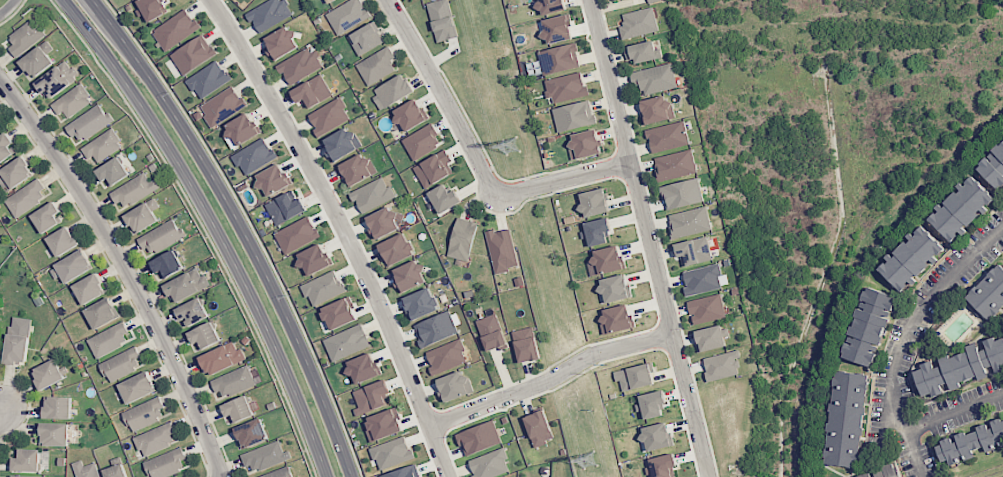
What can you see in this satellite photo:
building: (613, 0)
building: (328, 1)
building: (652, 1)
building: (550, 6)
road: (9, 8)
building: (151, 8)
building: (269, 14)
building: (347, 15)
dam: (844, 15)
building: (442, 20)
building: (638, 23)
building: (175, 29)
building: (556, 29)
building: (25, 37)
building: (366, 38)
building: (281, 43)
building: (642, 52)
building: (193, 54)
building: (38, 59)
building: (558, 59)
building: (300, 65)
building: (377, 66)
building: (654, 78)
building: (57, 79)
building: (208, 79)
building: (566, 87)
building: (394, 90)
building: (312, 91)
road: (444, 97)
building: (72, 102)
building: (222, 106)
building: (656, 109)
building: (410, 115)
building: (329, 116)
building: (573, 116)
building: (89, 123)
building: (0, 128)
building: (241, 130)
building: (667, 137)
building: (421, 141)
building: (341, 143)
building: (584, 144)
building: (102, 146)
building: (5, 147)
power tower: (512, 150)
building: (253, 156)
building: (674, 165)
building: (993, 167)
building: (433, 168)
building: (356, 169)
building: (113, 171)
building: (14, 174)
building: (272, 180)
road: (562, 180)
building: (133, 190)
building: (682, 193)
building: (372, 194)
building: (26, 198)
building: (444, 198)
building: (593, 203)
building: (287, 207)
building: (961, 209)
building: (142, 216)
building: (46, 217)
building: (689, 222)
building: (382, 223)
road: (219, 226)
road: (245, 226)
road: (202, 227)
road: (251, 227)
road: (343, 230)
building: (597, 231)
building: (297, 235)
building: (161, 237)
road: (648, 238)
building: (462, 239)
building: (62, 241)
building: (396, 249)
building: (502, 250)
building: (693, 251)
building: (911, 258)
building: (314, 259)
building: (607, 260)
building: (167, 265)
building: (72, 267)
road: (124, 271)
building: (408, 276)
building: (702, 280)
building: (186, 285)
building: (323, 288)
building: (614, 288)
building: (89, 289)
building: (989, 293)
building: (421, 303)
building: (706, 309)
building: (192, 312)
building: (102, 313)
building: (339, 313)
building: (617, 319)
building: (869, 326)
building: (437, 329)
building: (491, 333)
building: (204, 336)
building: (711, 338)
building: (17, 340)
building: (109, 340)
building: (347, 342)
building: (525, 345)
building: (446, 356)
building: (222, 358)
building: (121, 364)
building: (722, 366)
building: (959, 367)
building: (363, 368)
building: (48, 374)
building: (635, 377)
road: (550, 378)
road: (895, 380)
building: (234, 382)
building: (454, 385)
building: (137, 387)
building: (371, 396)
building: (652, 405)
building: (58, 407)
road: (2, 410)
building: (238, 410)
building: (144, 414)
building: (846, 419)
building: (383, 424)
building: (539, 428)
building: (251, 433)
building: (54, 434)
building: (656, 436)
building: (479, 438)
building: (156, 439)
building: (970, 442)
building: (391, 453)
road: (914, 454)
building: (266, 457)
building: (27, 461)
power tower: (589, 462)
building: (166, 464)
building: (490, 464)
building: (662, 465)
building: (85, 469)
building: (115, 471)
building: (405, 472)
building: (883, 472)
building: (279, 473)
building: (28, 476)

